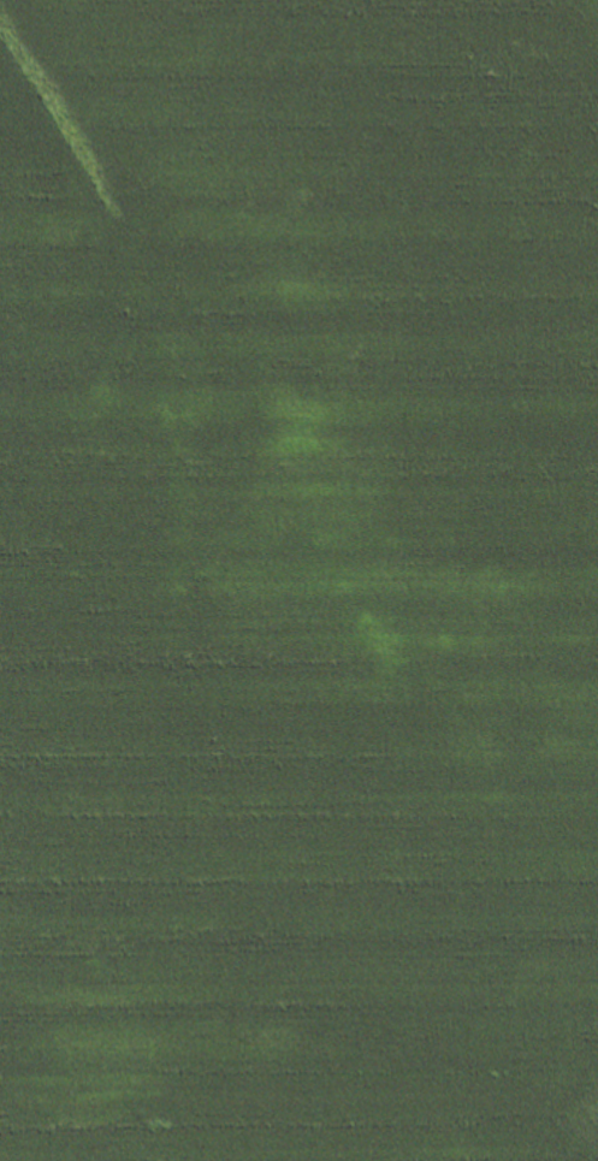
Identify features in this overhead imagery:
road: (229, 930)

